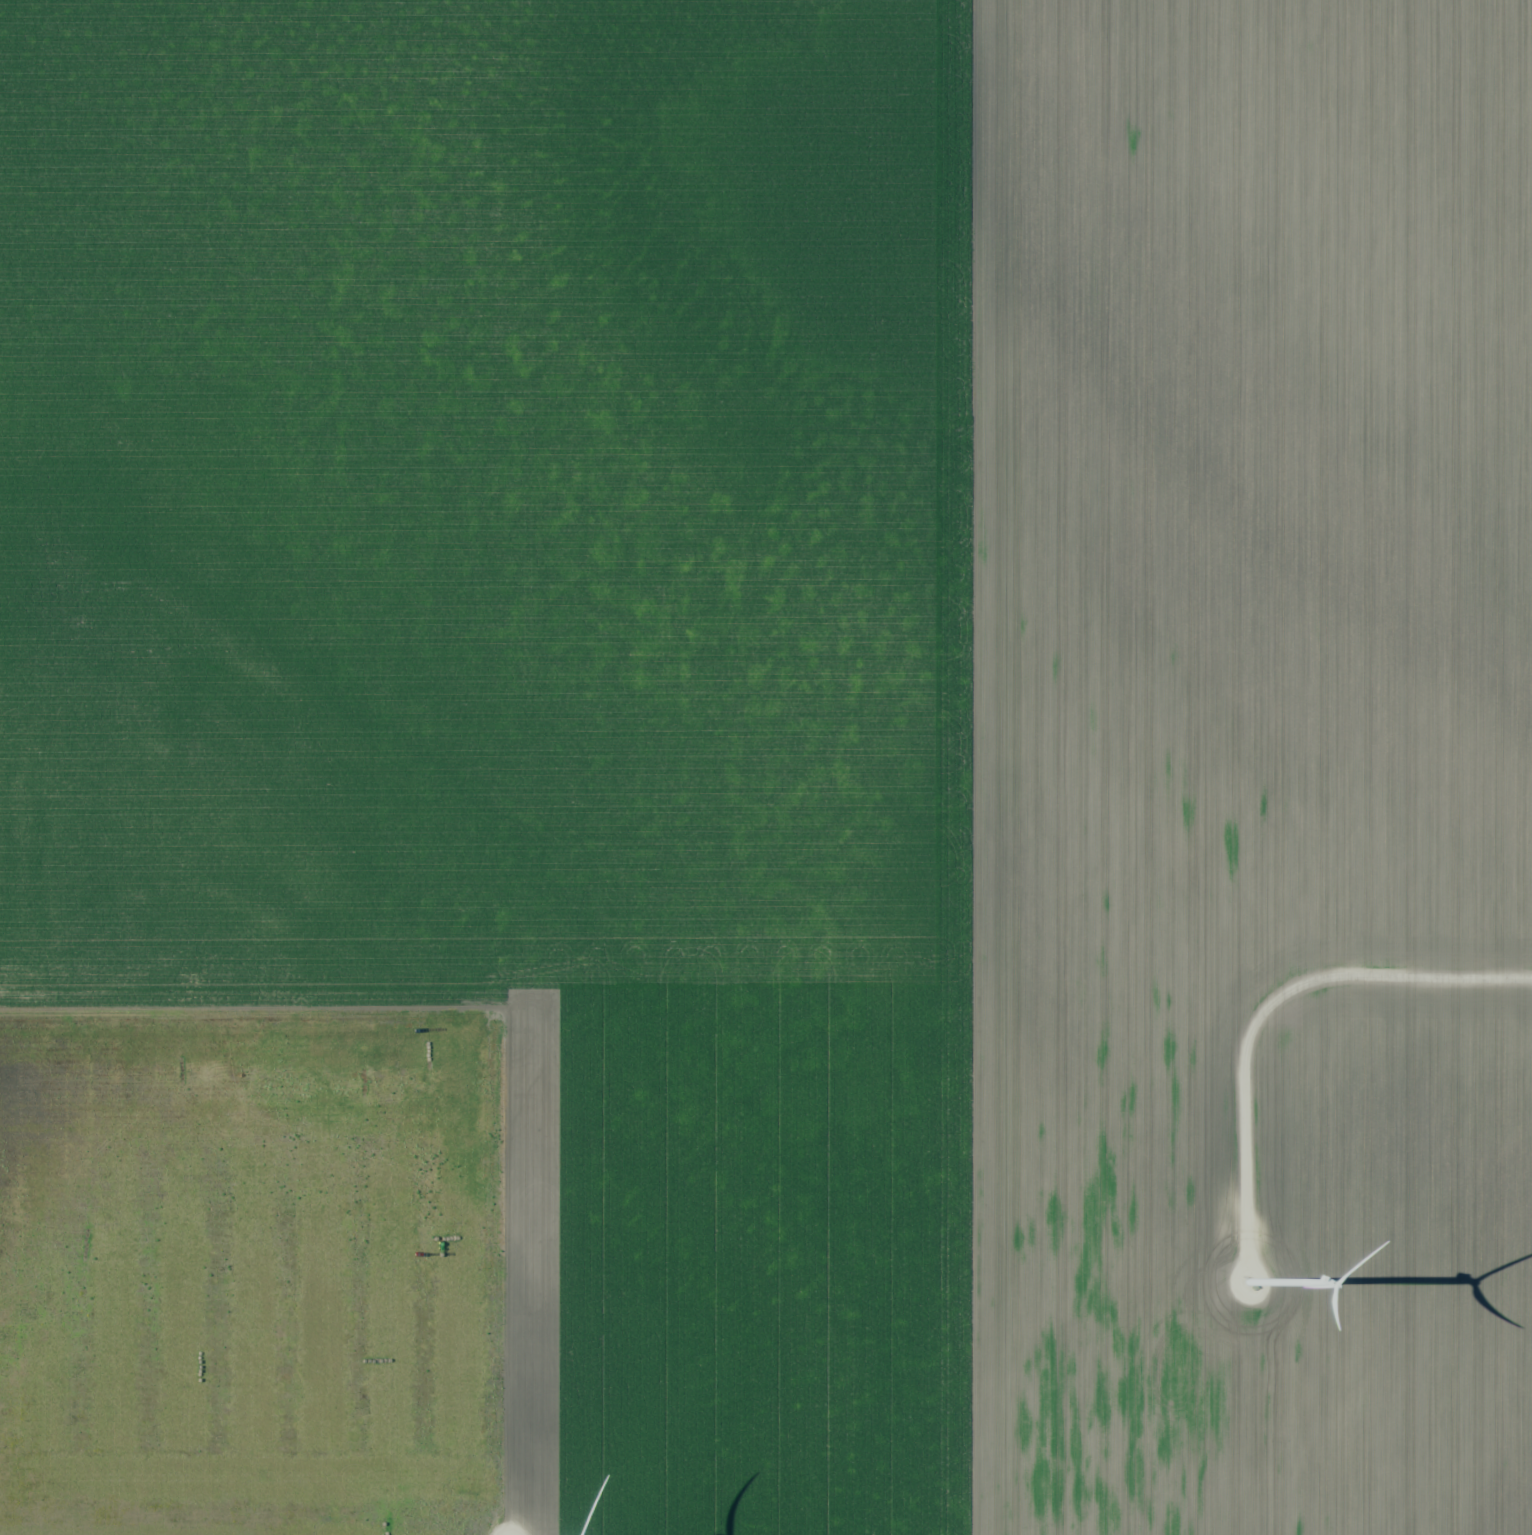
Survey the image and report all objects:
wind turbine: (1236, 1283)

